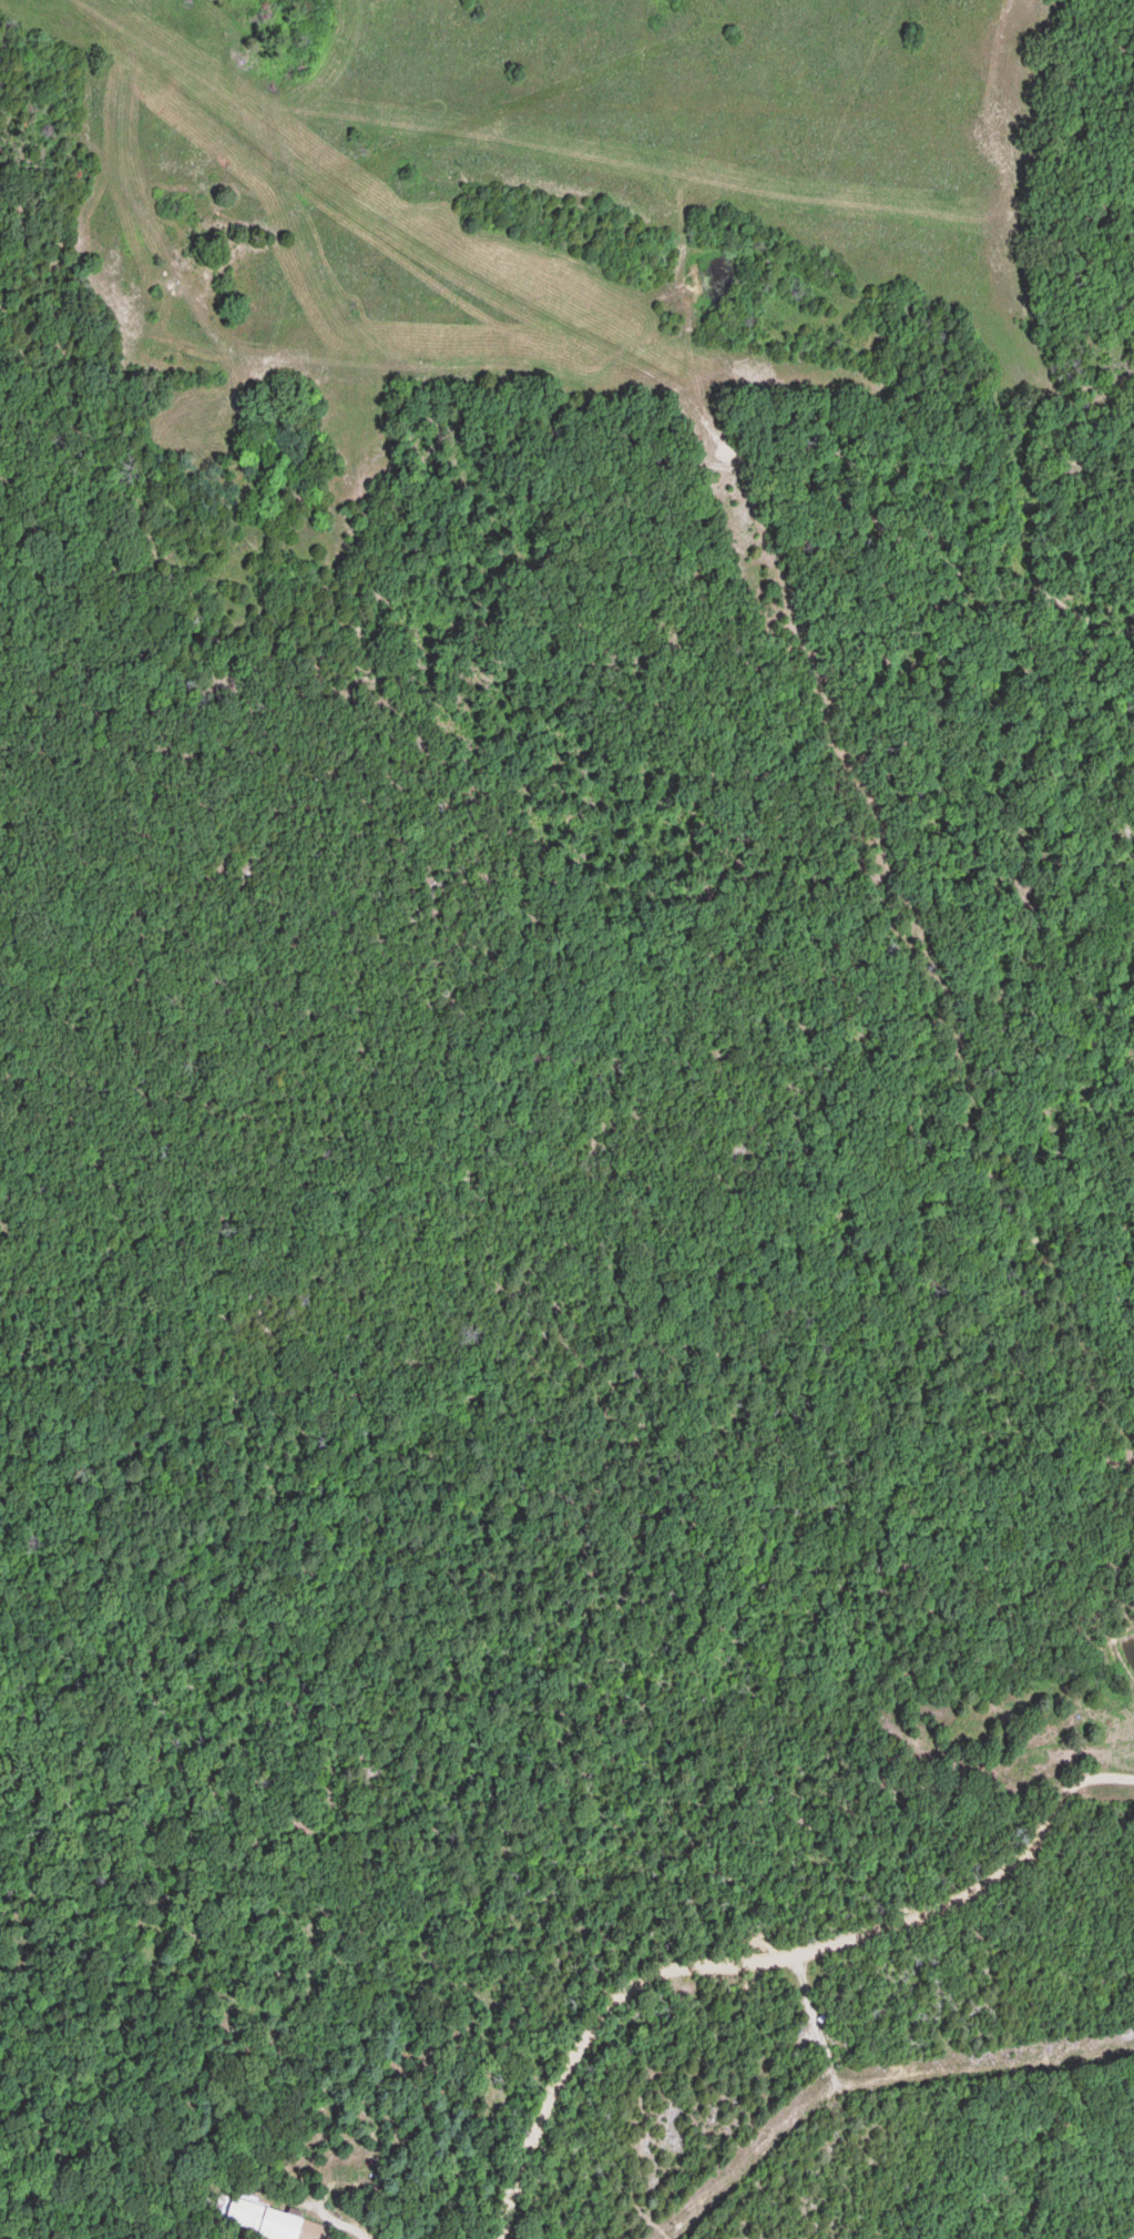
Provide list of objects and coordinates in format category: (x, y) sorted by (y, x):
road: (764, 1958)
building: (269, 2221)
road: (345, 2228)
road: (1124, 2232)

